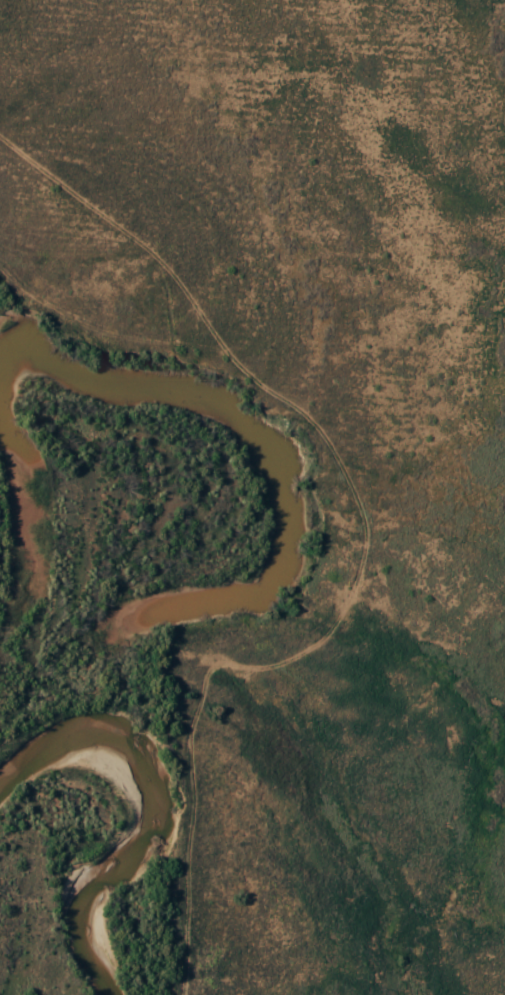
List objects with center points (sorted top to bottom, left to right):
river: (145, 808)

